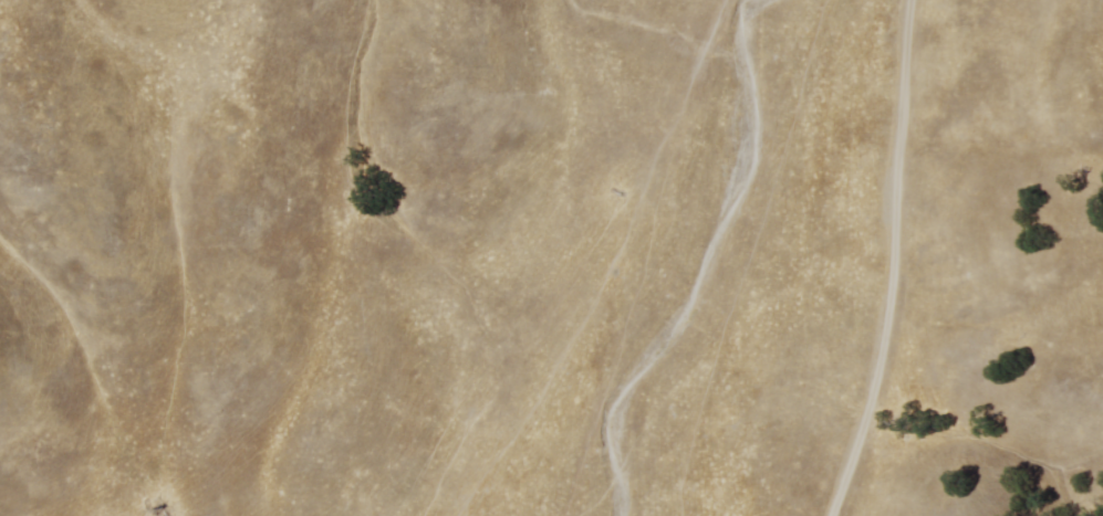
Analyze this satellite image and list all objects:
road: (892, 261)

